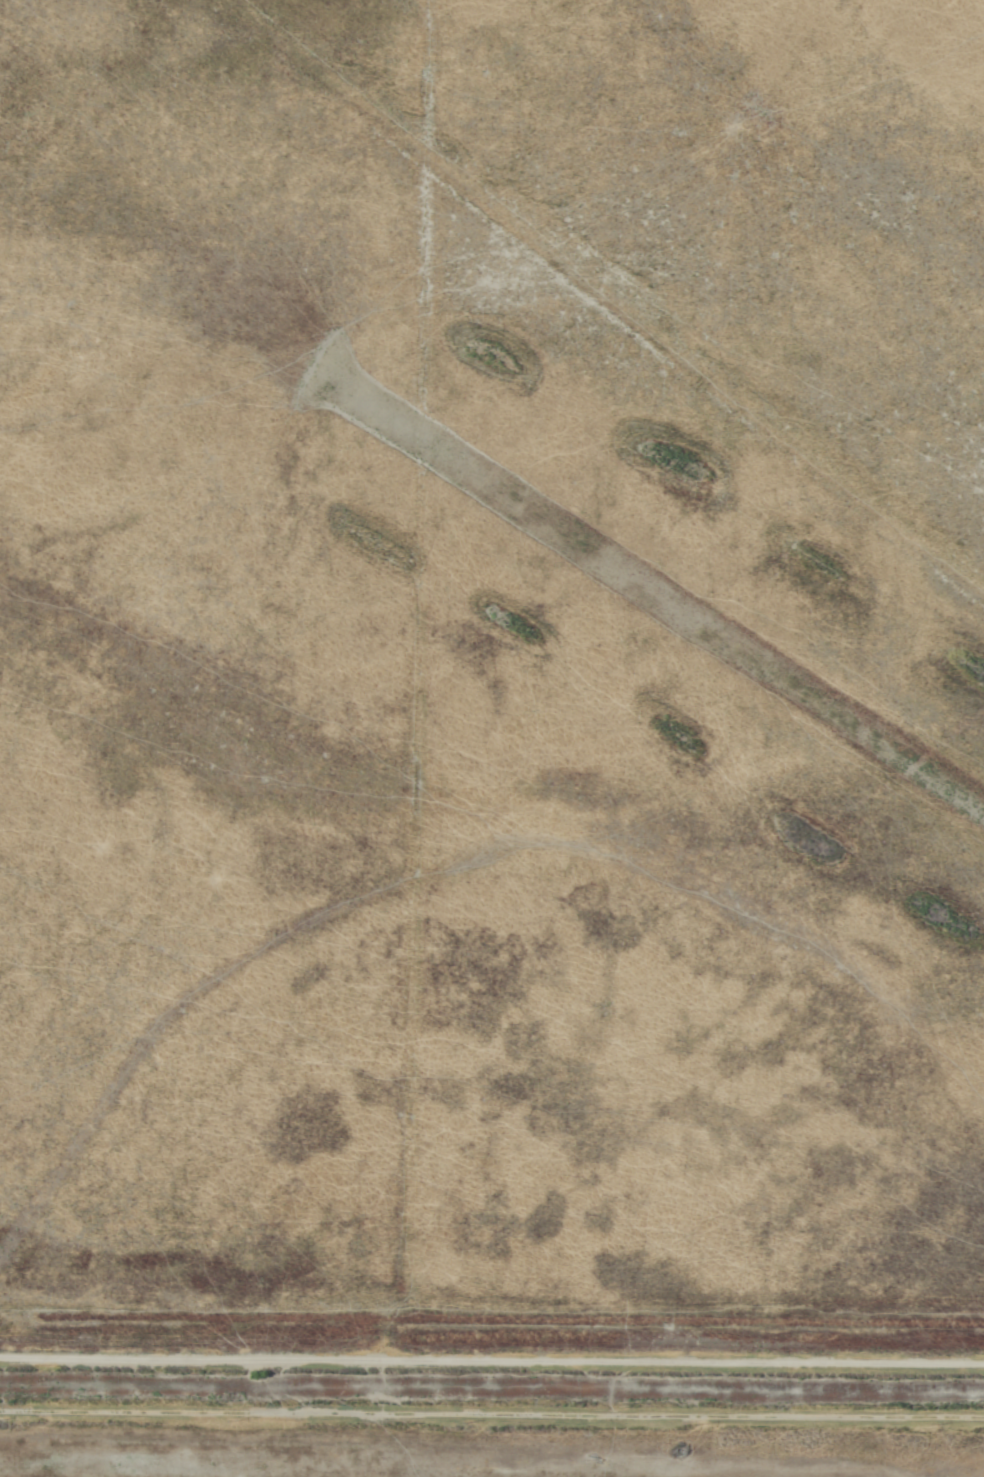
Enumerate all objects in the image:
crop: (492, 738)
road: (492, 1356)
road: (492, 1409)

